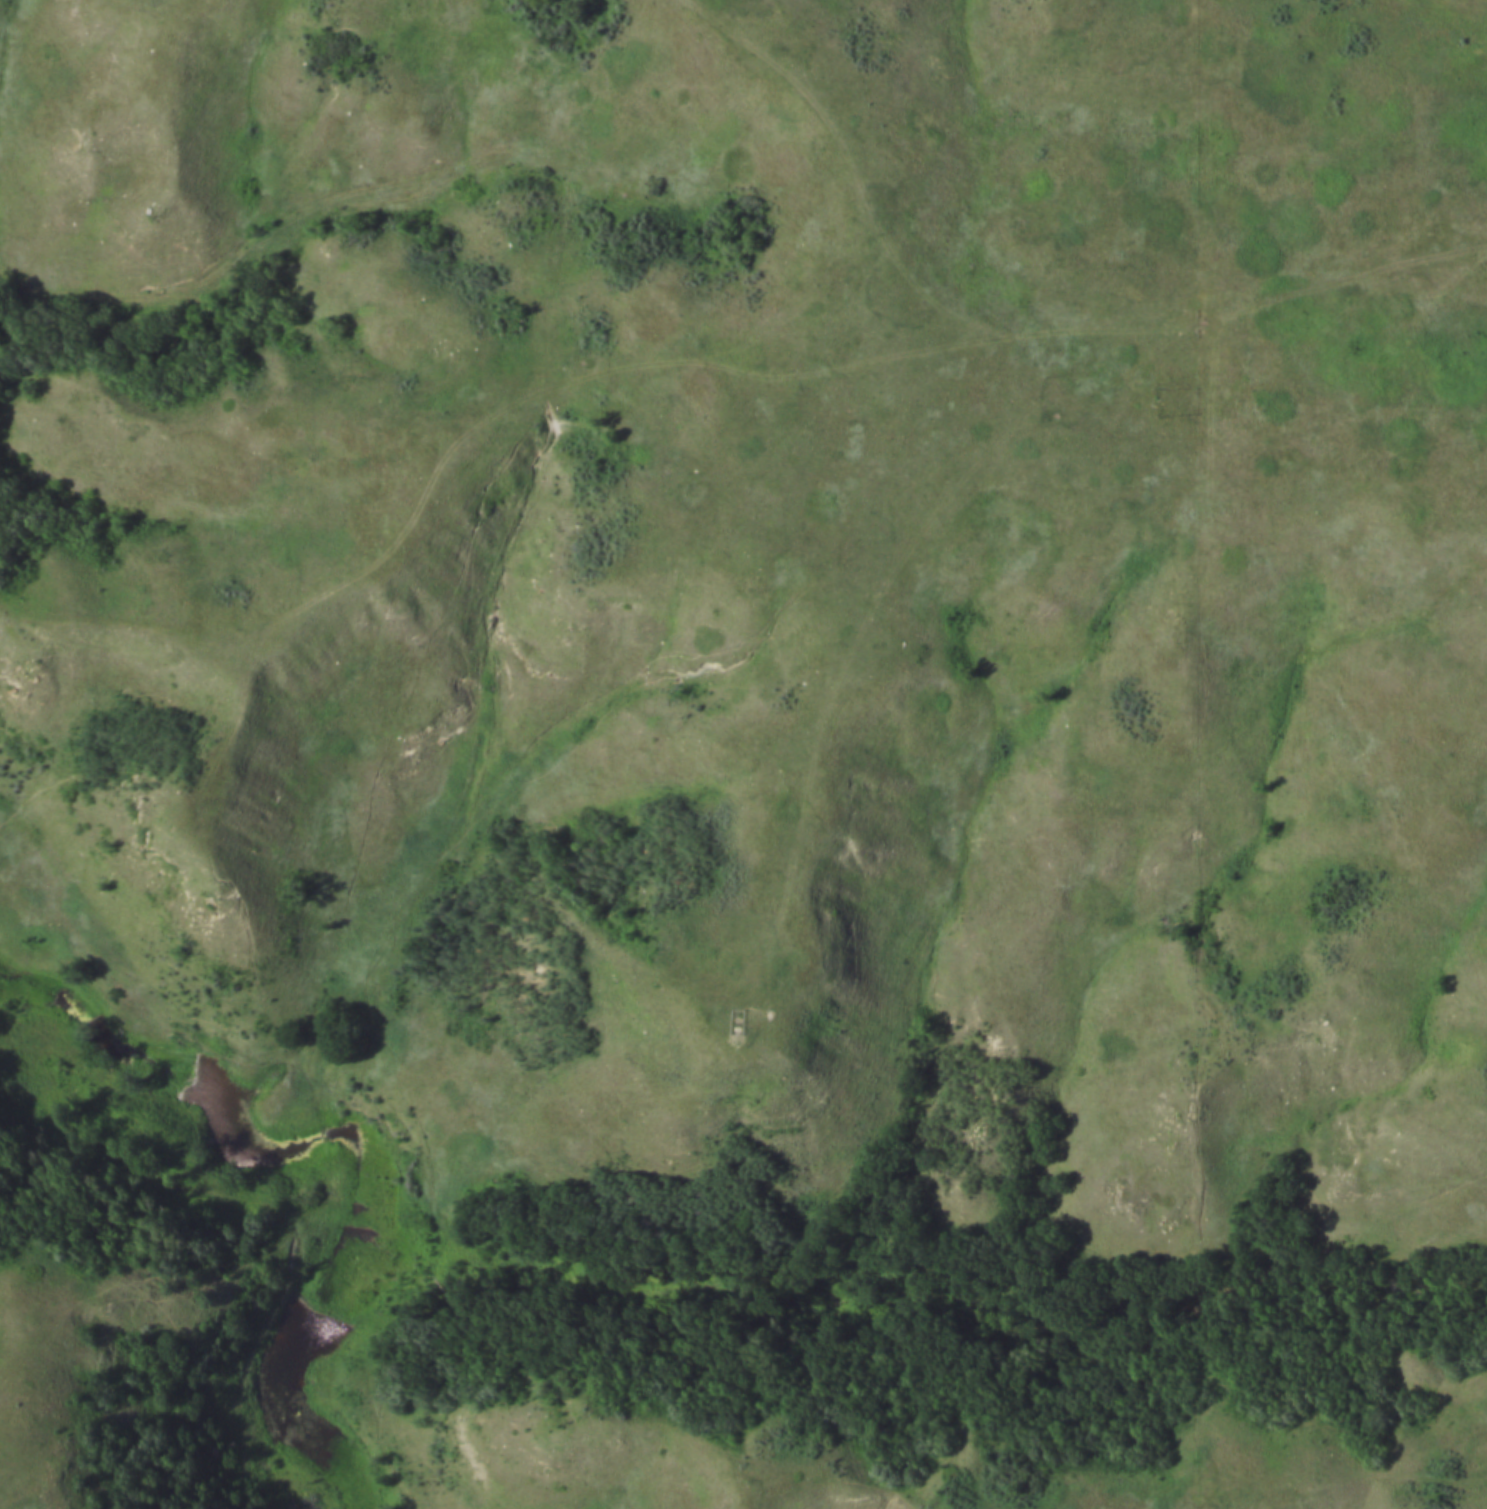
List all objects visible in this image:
road: (853, 145)
road: (702, 363)

